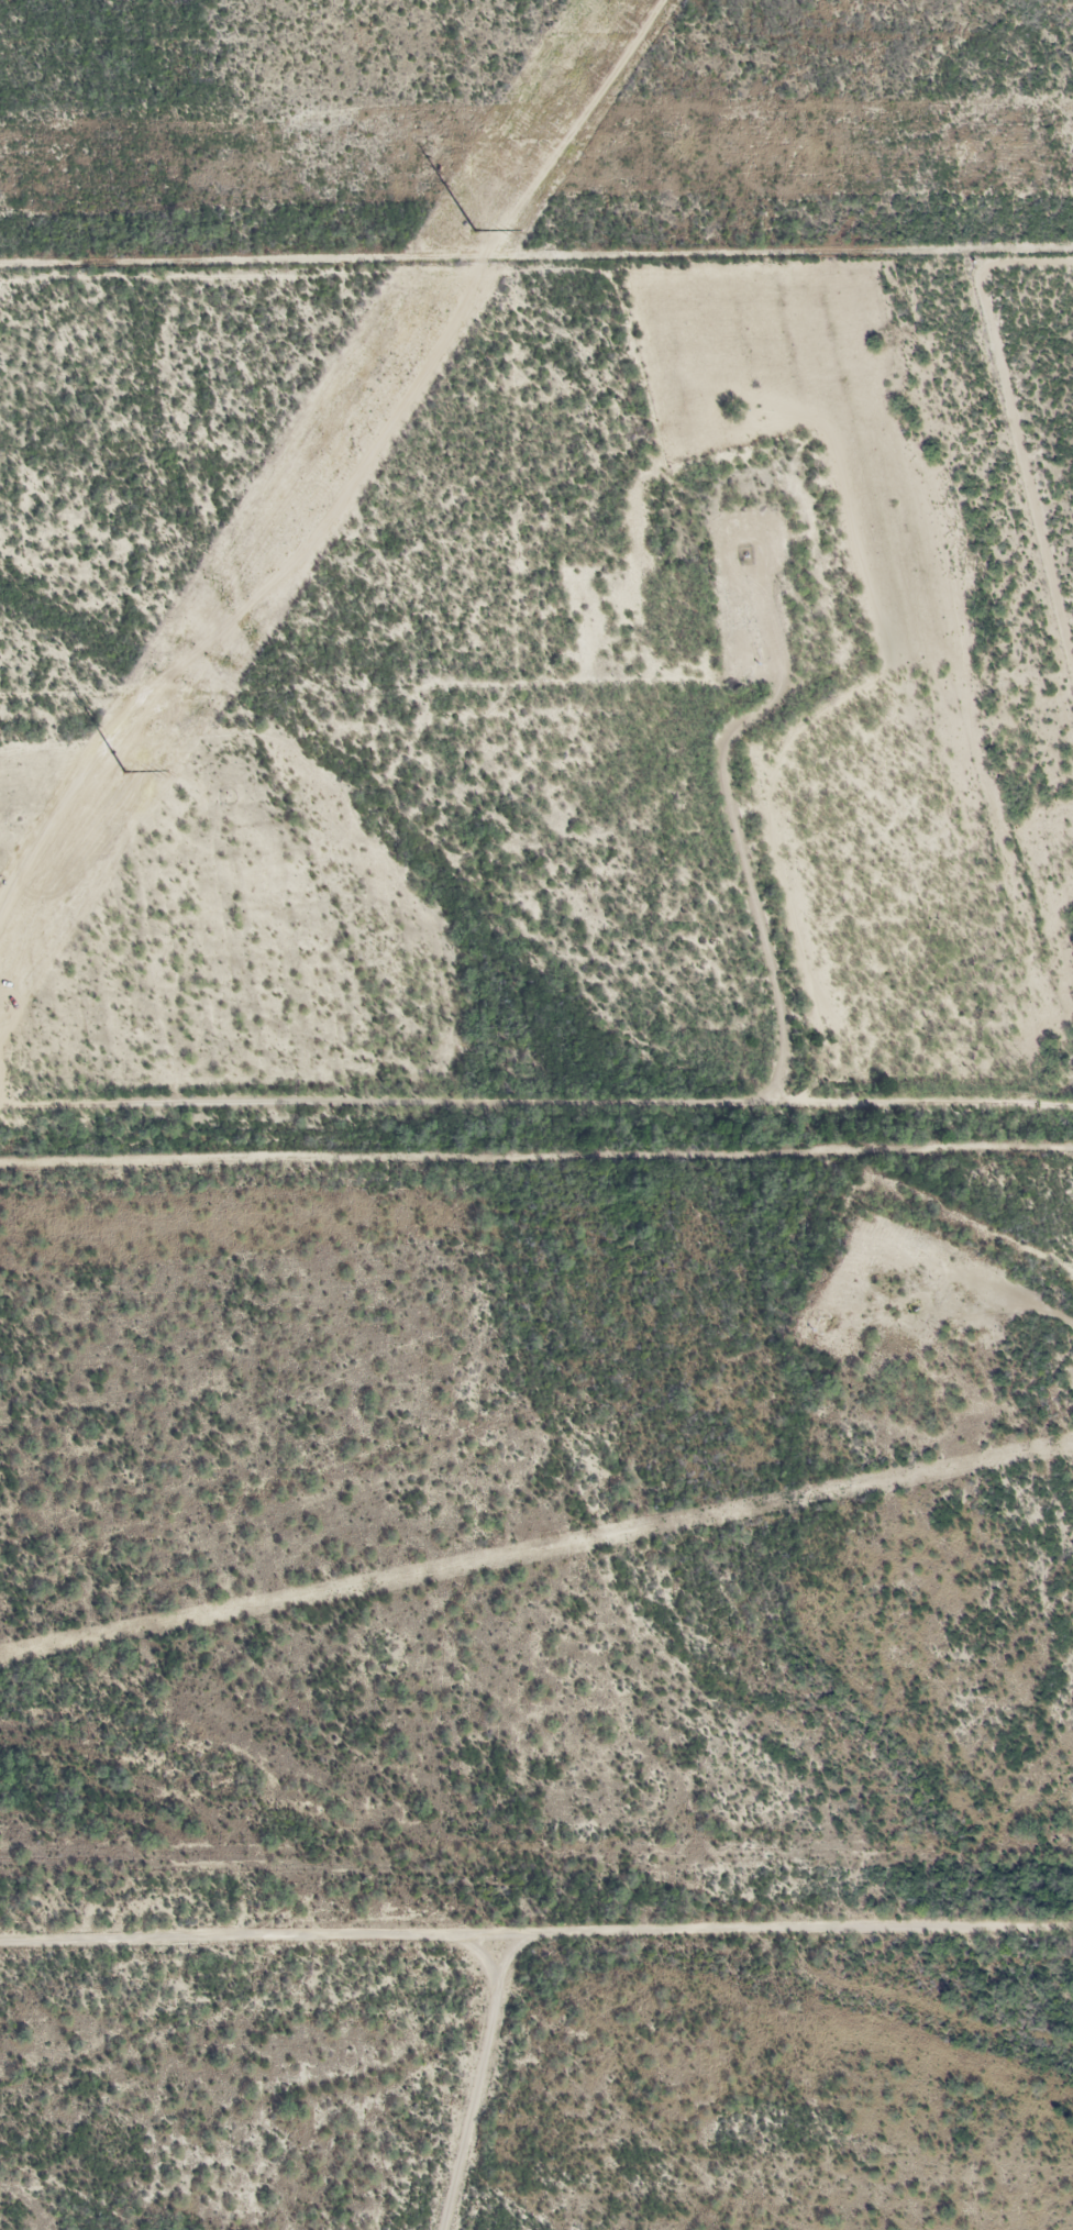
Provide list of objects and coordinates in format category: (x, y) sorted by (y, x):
power tower: (473, 229)
power tower: (123, 771)
road: (488, 1122)
road: (536, 1932)
road: (455, 2084)

